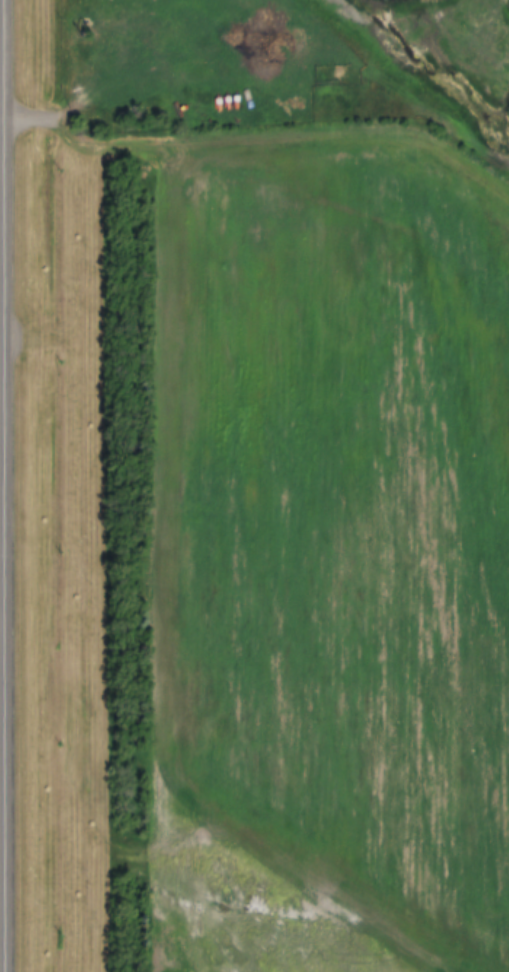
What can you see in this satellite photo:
road: (83, 95)
road: (9, 113)
road: (5, 126)
road: (261, 145)
road: (4, 838)

